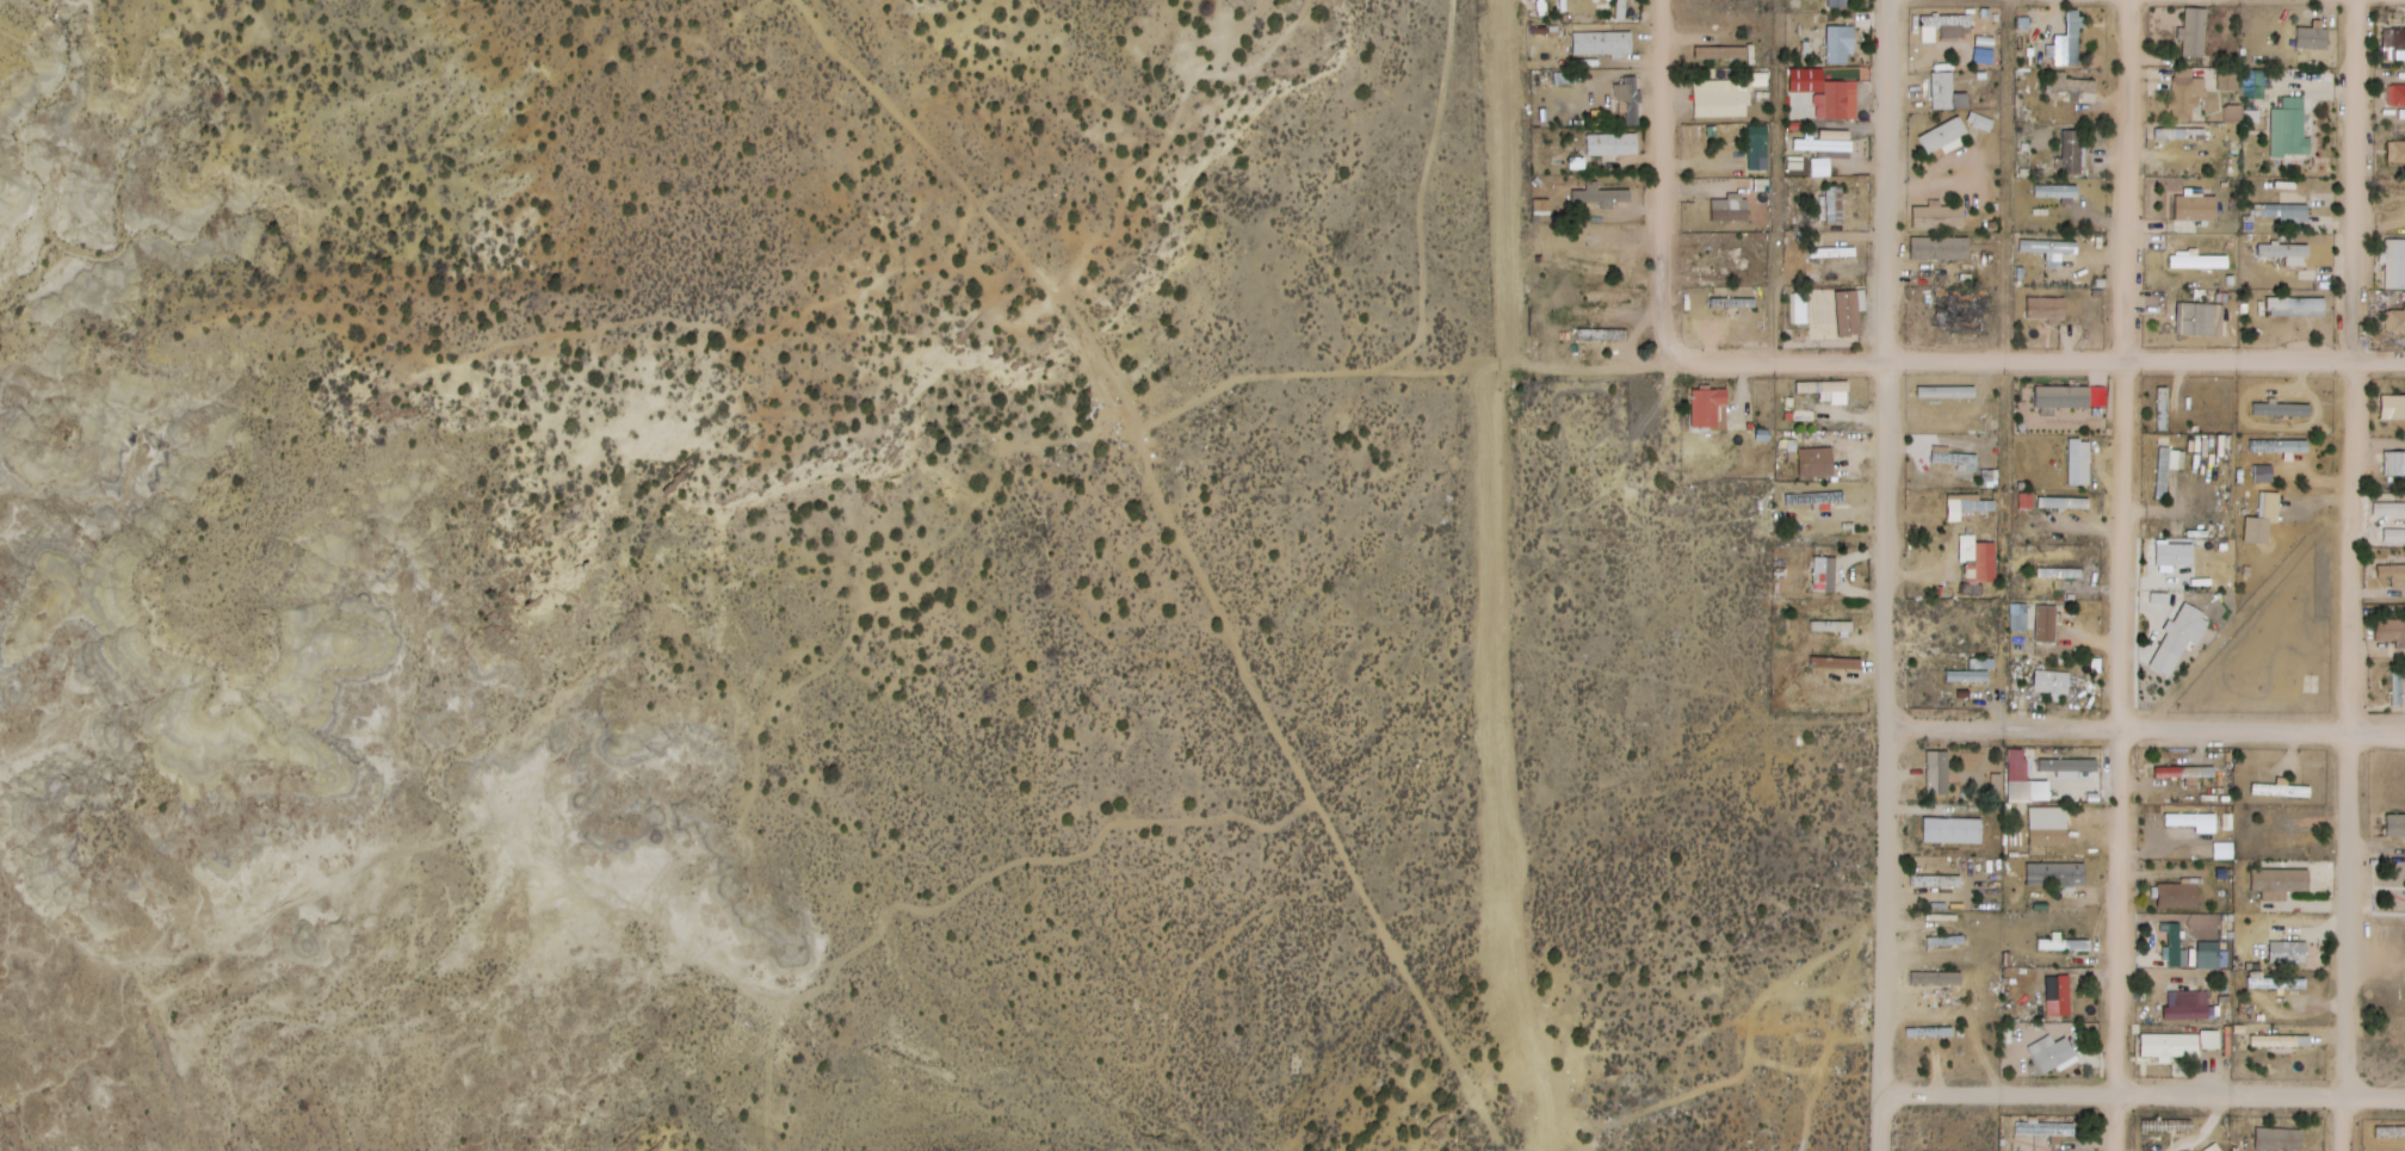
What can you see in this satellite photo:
building: (1836, 4)
building: (1622, 10)
building: (2197, 33)
building: (2316, 37)
building: (2071, 42)
building: (1605, 43)
building: (2395, 44)
building: (1841, 45)
building: (1986, 49)
building: (1721, 52)
building: (1945, 91)
building: (2191, 92)
building: (2398, 95)
building: (1628, 100)
building: (1840, 100)
building: (1723, 103)
building: (2292, 129)
building: (2175, 132)
building: (1947, 136)
building: (1613, 144)
building: (1757, 148)
building: (2399, 148)
building: (2075, 153)
road: (1884, 179)
road: (2353, 180)
building: (2399, 190)
building: (2069, 199)
building: (1835, 204)
building: (1731, 208)
building: (2197, 209)
building: (2287, 212)
building: (1941, 218)
building: (2048, 247)
building: (1942, 248)
building: (2286, 250)
building: (1594, 255)
building: (2395, 262)
building: (2300, 307)
building: (2047, 310)
building: (1804, 314)
building: (1850, 314)
building: (1965, 314)
building: (2197, 320)
building: (2397, 322)
road: (2144, 358)
road: (1776, 360)
road: (2120, 365)
building: (2061, 395)
building: (1708, 406)
building: (2393, 406)
building: (2162, 407)
building: (1952, 409)
building: (2281, 409)
building: (2279, 445)
building: (1953, 457)
building: (2078, 459)
building: (1814, 460)
building: (2394, 462)
building: (2166, 468)
building: (2026, 500)
building: (2064, 501)
building: (1970, 507)
building: (2392, 508)
building: (2258, 521)
building: (1978, 558)
building: (2392, 571)
building: (1823, 573)
building: (2017, 615)
building: (2045, 623)
building: (1822, 625)
building: (2391, 631)
building: (2178, 637)
building: (1971, 673)
building: (2051, 682)
building: (2397, 686)
road: (2145, 731)
road: (1886, 755)
road: (2347, 756)
building: (2065, 762)
building: (2184, 772)
building: (1937, 773)
building: (2018, 778)
building: (2258, 788)
building: (2395, 824)
building: (1952, 830)
building: (2048, 835)
building: (2055, 873)
building: (2280, 881)
building: (2178, 896)
building: (1945, 940)
road: (2121, 941)
building: (2063, 943)
building: (2174, 943)
building: (2289, 952)
building: (1936, 977)
building: (2279, 982)
building: (2061, 997)
building: (2188, 1004)
building: (1930, 1032)
building: (2281, 1040)
building: (2214, 1041)
building: (2170, 1045)
building: (2051, 1052)
road: (2143, 1094)
building: (2279, 1139)

